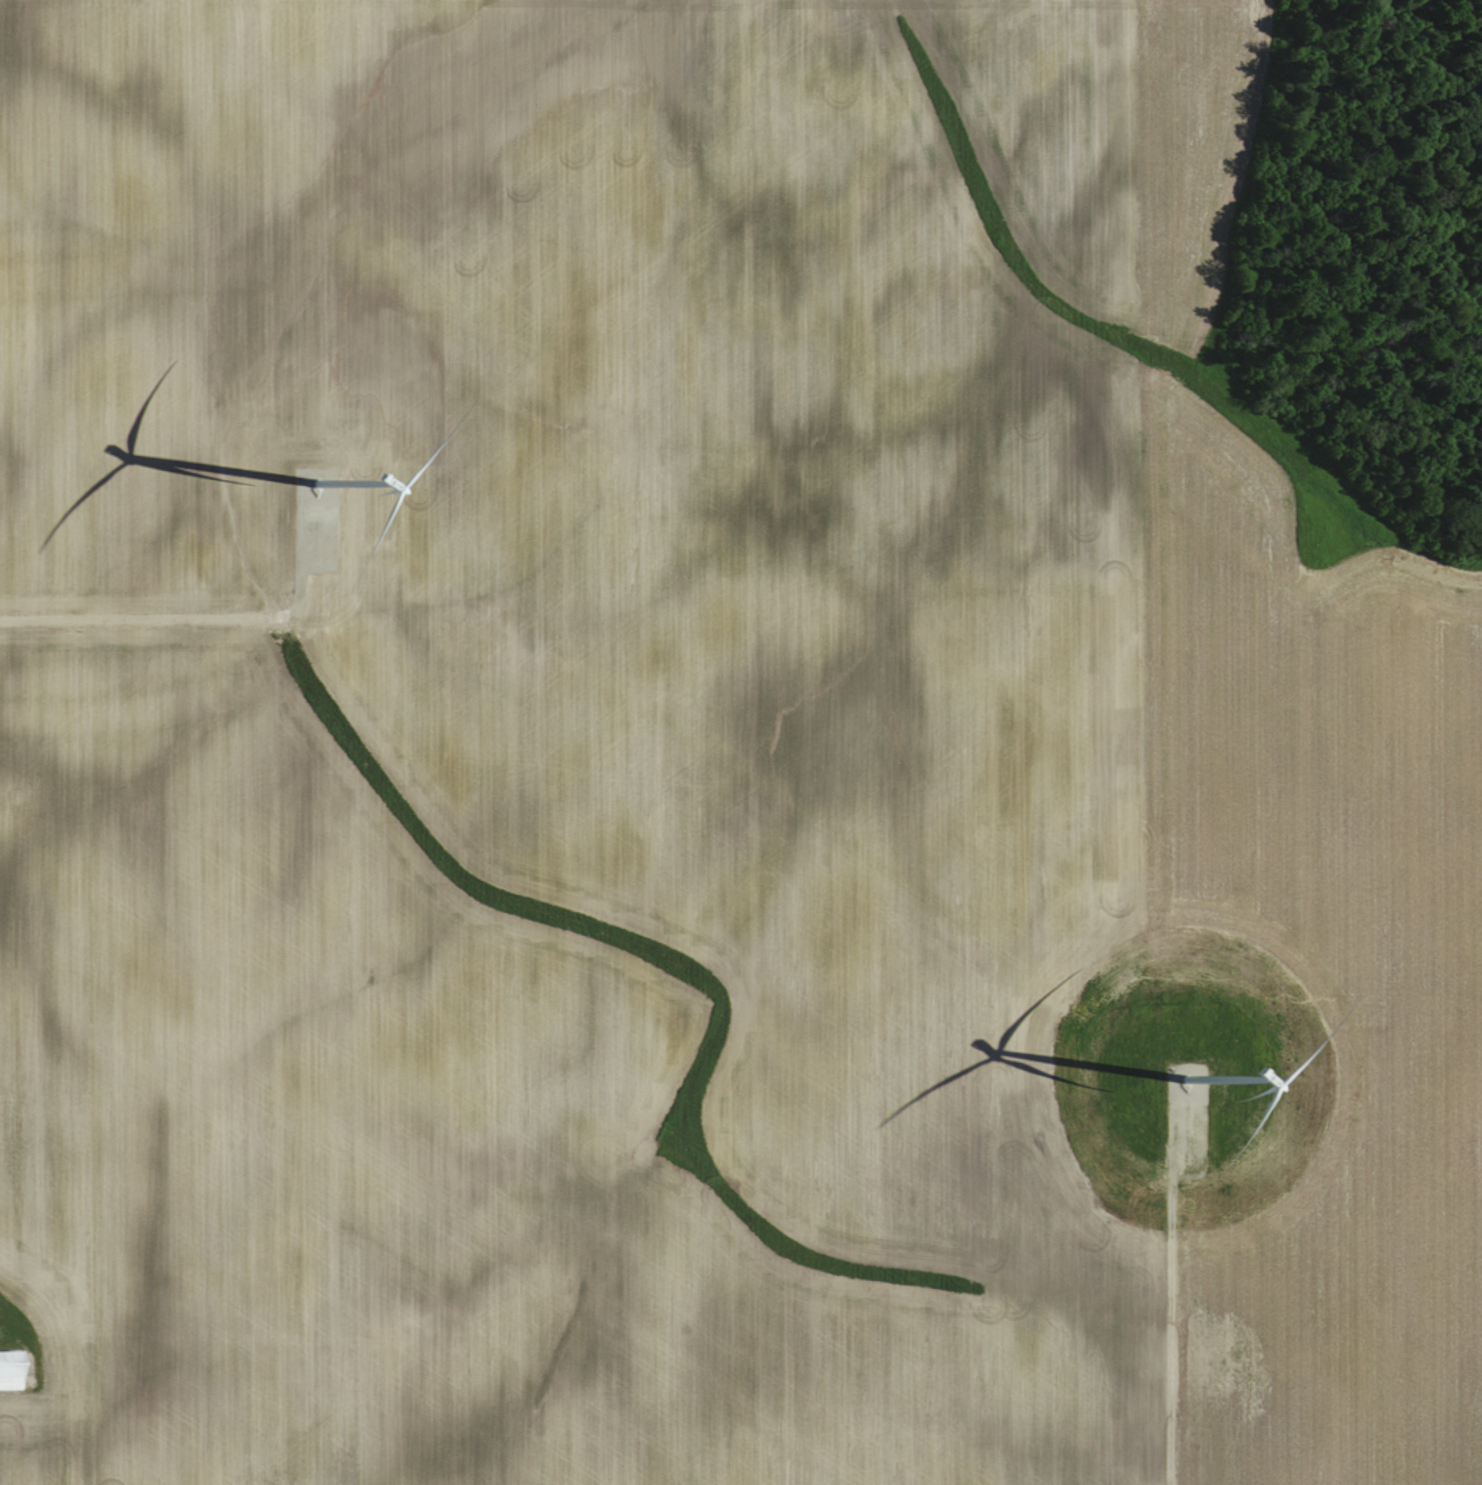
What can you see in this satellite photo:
wind turbine: (316, 483)
wind turbine: (1188, 1078)
road: (1169, 1313)
building: (8, 1370)

